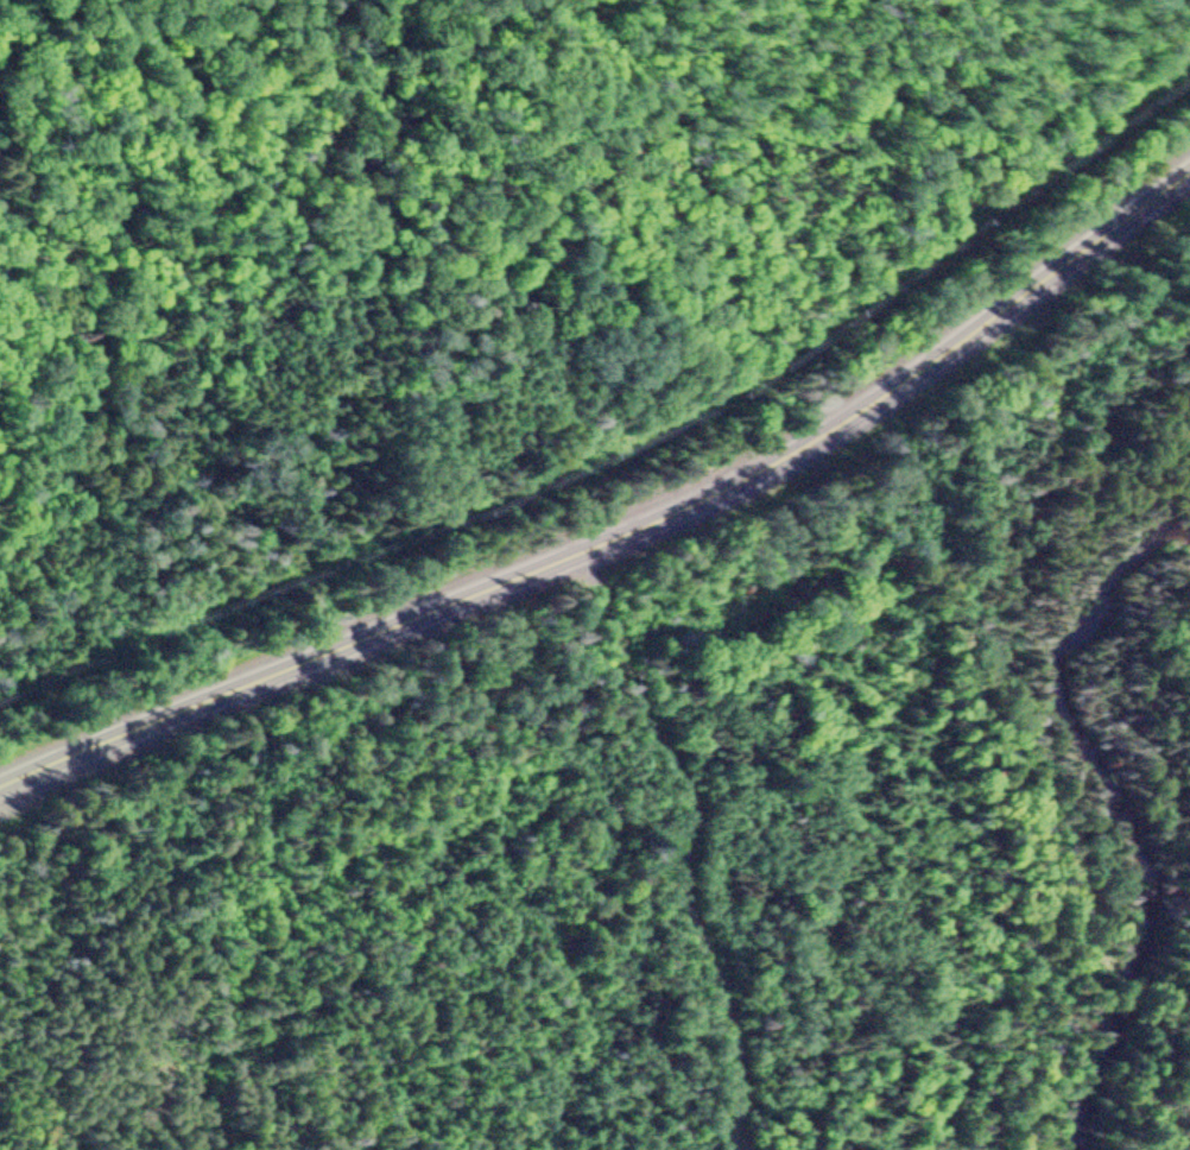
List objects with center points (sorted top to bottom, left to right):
road: (625, 533)
river: (1107, 804)

